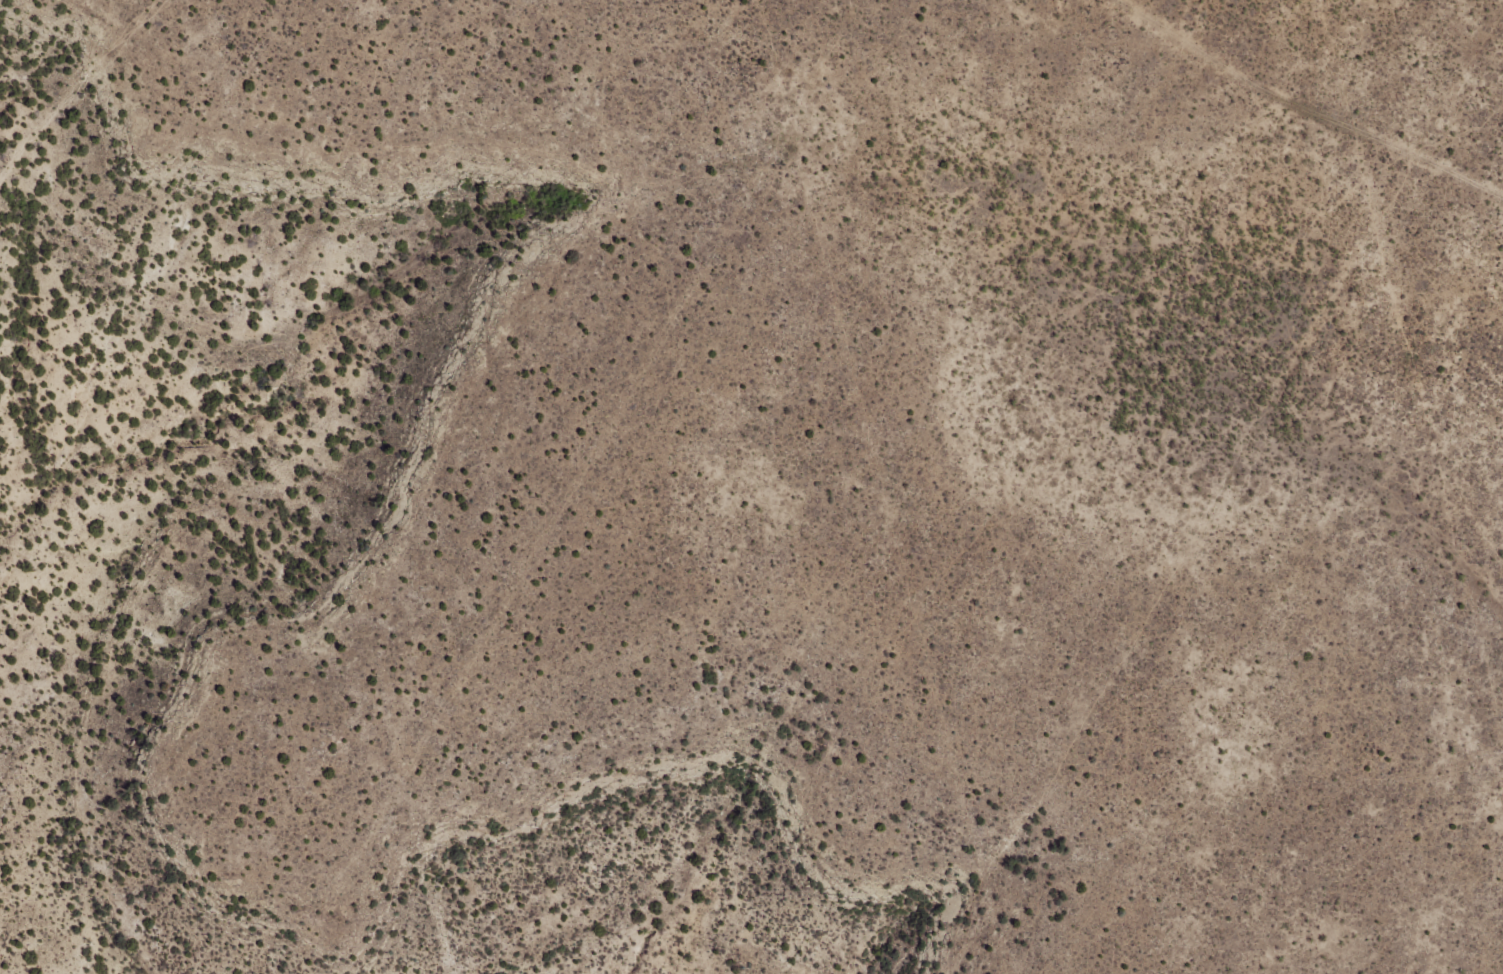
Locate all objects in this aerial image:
road: (1332, 76)

